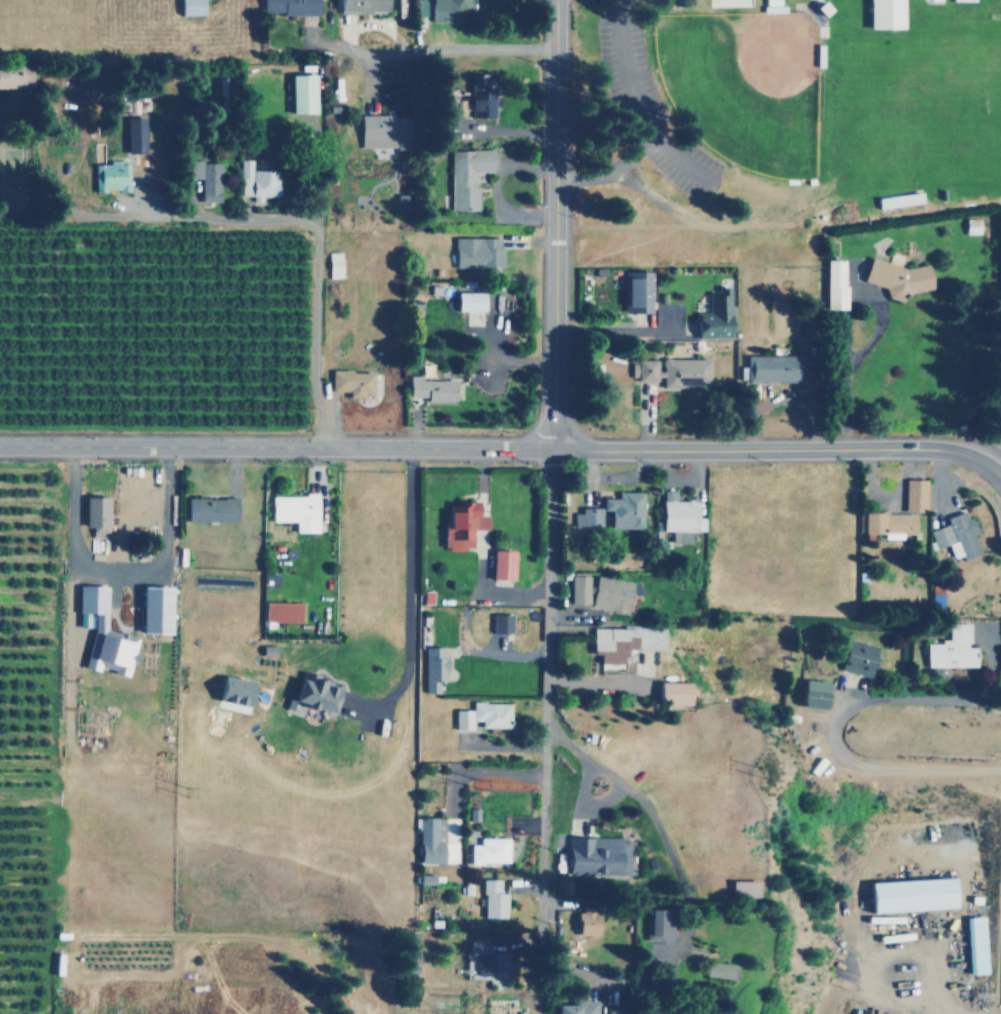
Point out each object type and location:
building: (361, 6)
building: (189, 7)
building: (288, 7)
building: (443, 10)
building: (884, 14)
road: (461, 49)
building: (14, 75)
park: (742, 85)
building: (300, 92)
building: (480, 92)
park: (923, 97)
building: (447, 103)
road: (634, 108)
building: (134, 134)
building: (466, 175)
building: (110, 176)
building: (206, 178)
building: (257, 181)
building: (898, 199)
road: (554, 223)
building: (971, 225)
road: (318, 246)
building: (477, 251)
building: (334, 264)
building: (896, 277)
building: (834, 284)
building: (636, 292)
building: (468, 300)
building: (713, 316)
road: (848, 366)
building: (773, 368)
building: (674, 370)
building: (351, 382)
building: (429, 388)
road: (781, 402)
road: (276, 447)
road: (781, 448)
building: (914, 494)
building: (210, 509)
building: (624, 509)
building: (294, 510)
building: (95, 514)
building: (679, 516)
building: (587, 517)
building: (887, 524)
building: (460, 525)
building: (956, 535)
building: (500, 564)
building: (579, 589)
road: (547, 592)
building: (610, 593)
road: (406, 602)
building: (153, 609)
building: (280, 611)
building: (500, 623)
building: (101, 632)
building: (651, 637)
building: (610, 643)
building: (951, 648)
building: (857, 656)
building: (432, 667)
building: (232, 690)
building: (670, 692)
building: (812, 693)
building: (311, 694)
road: (846, 710)
building: (482, 715)
road: (628, 793)
road: (545, 815)
building: (433, 842)
building: (489, 850)
building: (595, 855)
building: (424, 879)
building: (742, 889)
building: (910, 894)
building: (492, 899)
building: (585, 923)
building: (657, 923)
building: (976, 945)
building: (408, 951)
building: (479, 957)
building: (718, 969)
building: (576, 1006)

